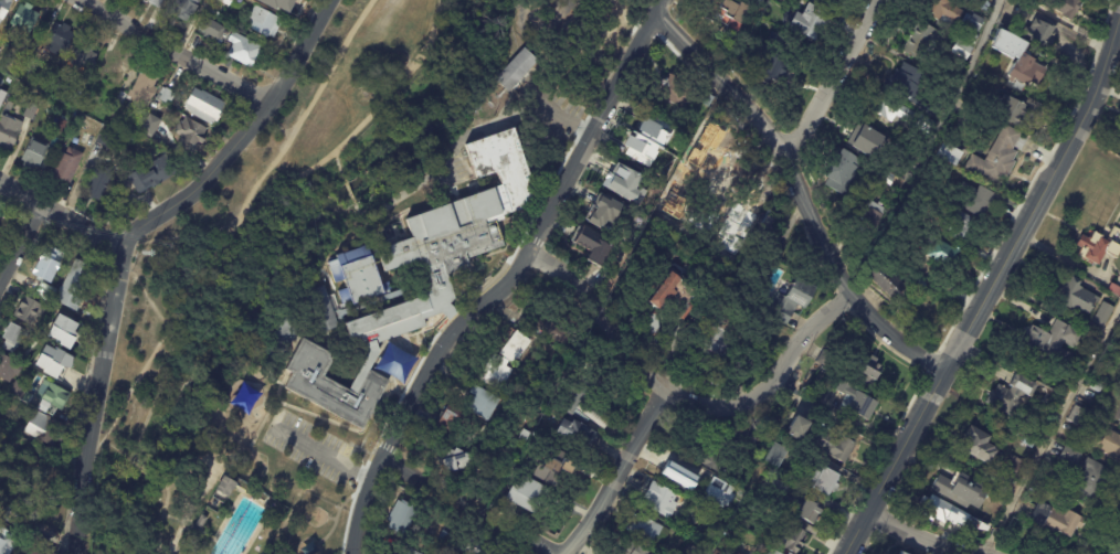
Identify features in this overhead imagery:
building: (834, 0)
building: (158, 3)
building: (229, 3)
building: (979, 3)
park: (635, 4)
building: (285, 7)
road: (649, 7)
road: (659, 7)
building: (1063, 7)
building: (6, 9)
building: (186, 10)
building: (736, 14)
building: (942, 15)
building: (27, 18)
parking lot: (550, 18)
building: (265, 22)
building: (806, 22)
building: (972, 22)
building: (214, 32)
building: (1037, 35)
building: (62, 40)
building: (920, 40)
building: (959, 50)
road: (425, 51)
road: (173, 52)
building: (246, 53)
building: (778, 57)
building: (84, 58)
building: (1014, 61)
building: (520, 70)
building: (29, 73)
building: (117, 73)
road: (828, 73)
building: (978, 76)
building: (12, 82)
building: (60, 83)
building: (905, 84)
building: (144, 90)
building: (675, 90)
building: (72, 94)
building: (168, 95)
building: (0, 97)
building: (123, 98)
building: (710, 99)
building: (91, 105)
building: (207, 107)
building: (32, 110)
building: (891, 110)
building: (1008, 110)
building: (115, 119)
building: (64, 125)
building: (151, 125)
building: (924, 126)
road: (472, 128)
road: (420, 129)
road: (594, 130)
building: (1119, 131)
building: (10, 132)
building: (192, 135)
building: (652, 137)
building: (112, 140)
building: (865, 140)
road: (427, 141)
road: (339, 147)
road: (926, 147)
building: (36, 153)
building: (947, 156)
park: (325, 157)
building: (661, 158)
building: (994, 158)
building: (68, 166)
building: (839, 171)
building: (152, 177)
building: (886, 179)
building: (102, 183)
building: (625, 183)
road: (806, 192)
building: (971, 200)
building: (605, 213)
building: (1, 214)
building: (869, 216)
road: (63, 219)
road: (233, 221)
building: (961, 227)
building: (770, 231)
building: (443, 236)
road: (18, 239)
road: (131, 242)
building: (592, 245)
building: (1098, 247)
building: (937, 253)
building: (52, 260)
road: (492, 280)
building: (77, 285)
building: (881, 285)
building: (917, 285)
road: (993, 286)
building: (1112, 290)
building: (47, 292)
building: (1071, 297)
building: (791, 298)
building: (678, 299)
building: (31, 311)
building: (320, 311)
building: (1100, 316)
building: (41, 323)
building: (556, 324)
building: (656, 326)
building: (65, 331)
building: (726, 337)
building: (15, 338)
building: (1046, 344)
building: (518, 347)
building: (830, 359)
building: (54, 361)
road: (171, 365)
building: (10, 369)
building: (499, 372)
building: (874, 372)
building: (328, 383)
building: (1095, 385)
road: (425, 388)
building: (23, 394)
building: (1012, 394)
road: (290, 395)
building: (53, 396)
road: (684, 399)
building: (486, 404)
building: (588, 404)
building: (859, 404)
building: (1076, 415)
building: (1119, 419)
building: (458, 426)
road: (1052, 426)
building: (45, 427)
building: (797, 427)
building: (577, 433)
parking lot: (311, 443)
building: (1108, 443)
building: (1026, 444)
building: (838, 447)
building: (972, 447)
building: (730, 454)
park: (214, 455)
road: (327, 456)
building: (1069, 456)
building: (781, 457)
road: (148, 462)
building: (466, 464)
building: (564, 466)
building: (1013, 468)
building: (677, 475)
building: (45, 476)
building: (3, 478)
road: (621, 478)
building: (1091, 481)
building: (830, 482)
building: (226, 486)
building: (775, 491)
building: (959, 491)
building: (721, 492)
building: (532, 496)
building: (14, 498)
building: (661, 500)
road: (467, 507)
building: (756, 507)
building: (805, 509)
building: (285, 510)
building: (936, 511)
building: (6, 512)
road: (159, 512)
road: (186, 518)
building: (403, 518)
building: (201, 521)
building: (1053, 521)
road: (334, 522)
building: (646, 529)
building: (192, 535)
building: (793, 539)
road: (921, 540)
building: (444, 543)
building: (4, 544)
building: (479, 545)
building: (634, 548)
road: (1117, 548)
building: (36, 550)
building: (770, 552)
building: (775, 552)
building: (416, 553)
building: (739, 553)
building: (896, 553)

